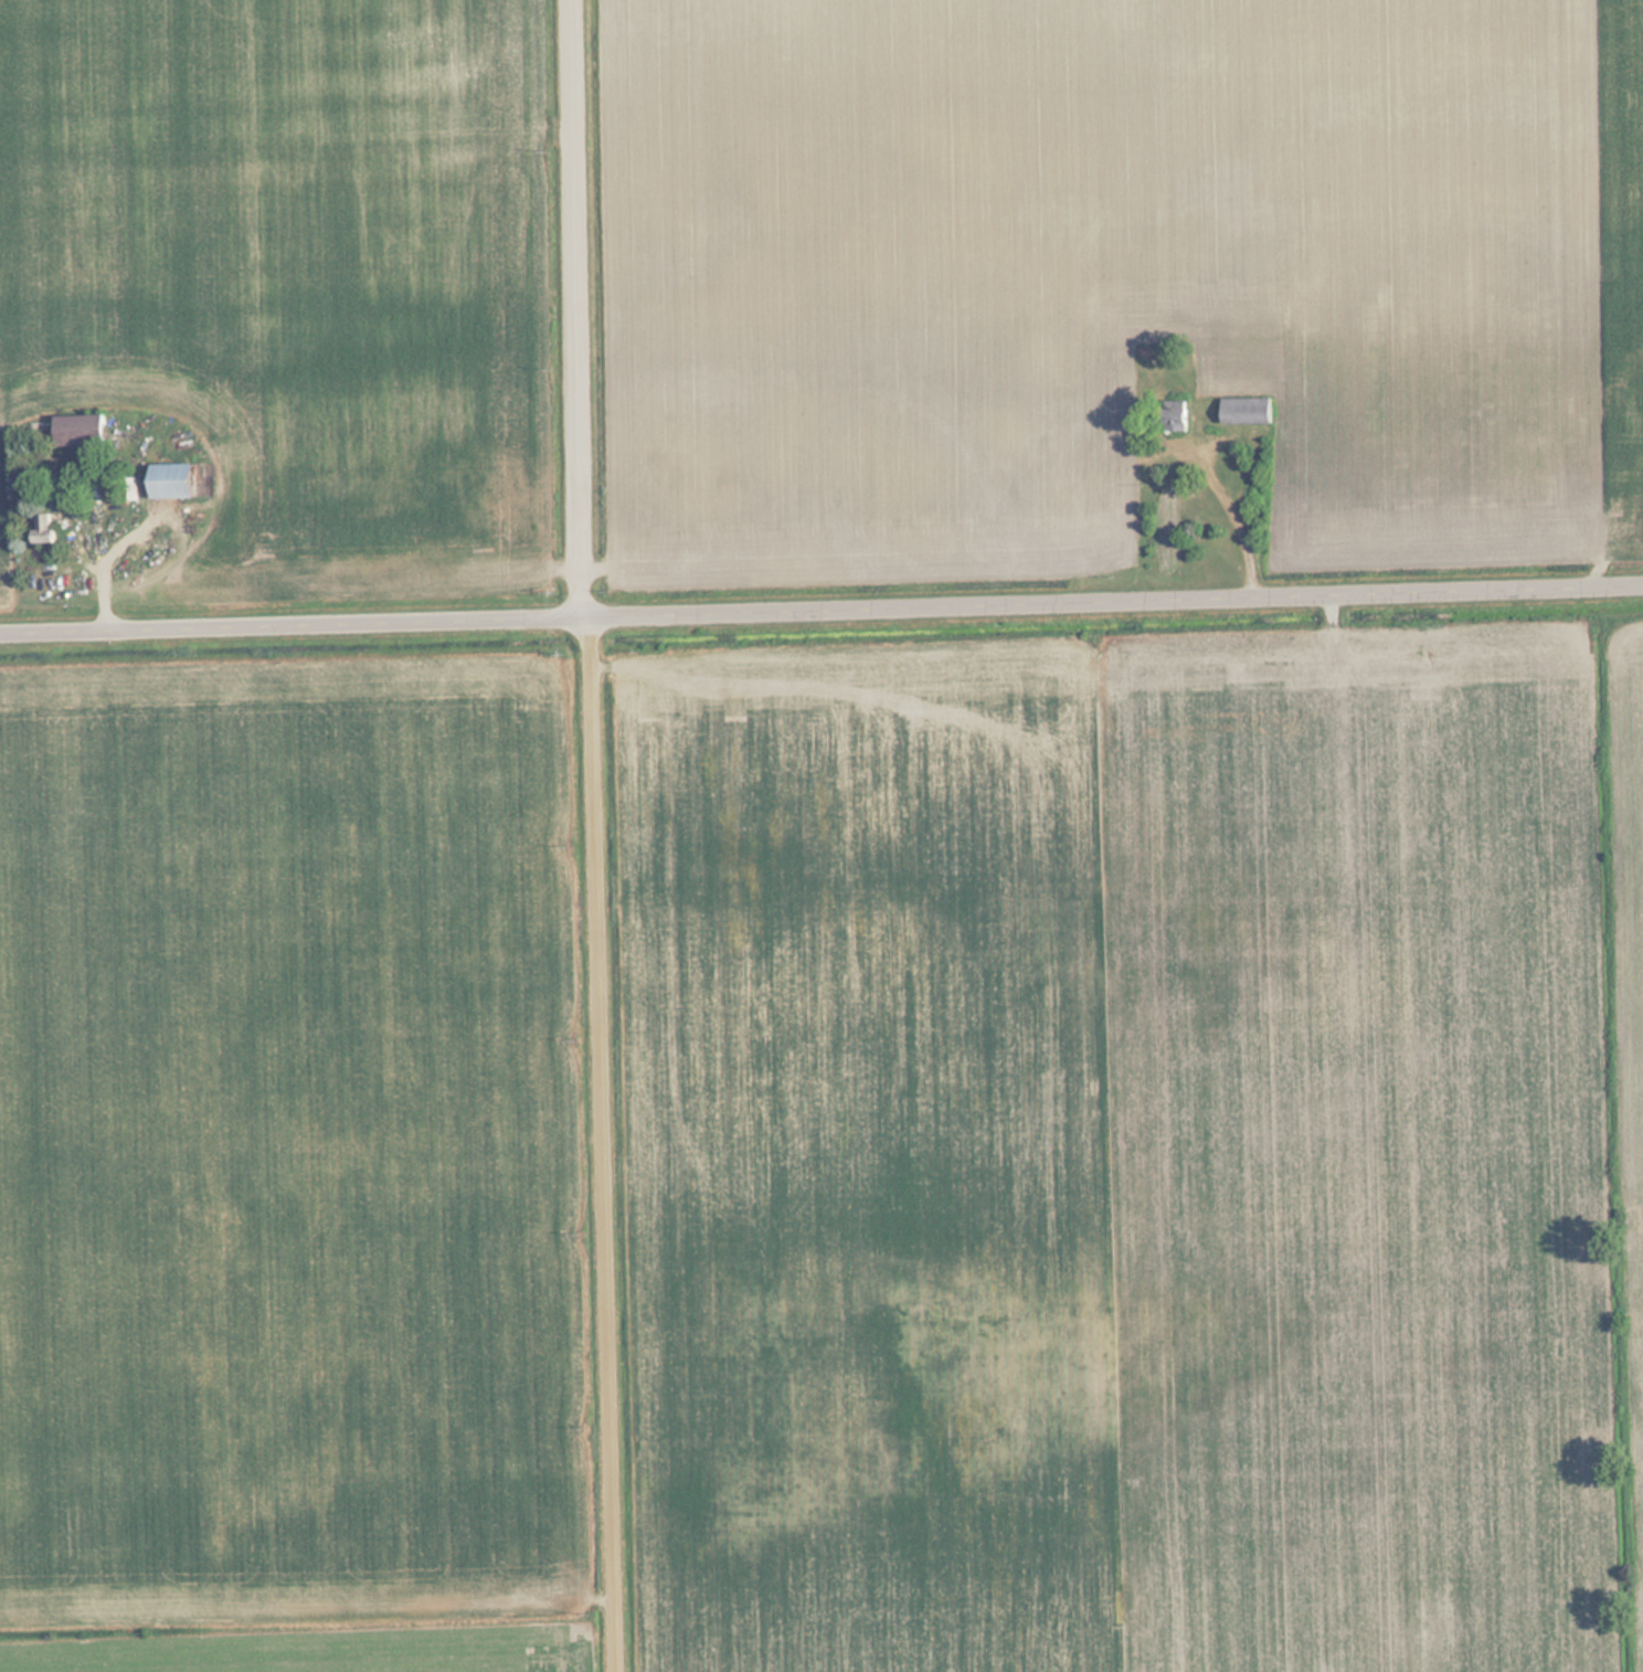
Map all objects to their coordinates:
building: (1250, 409)
building: (1180, 420)
building: (84, 428)
building: (178, 479)
building: (49, 527)
road: (821, 609)
road: (605, 835)

